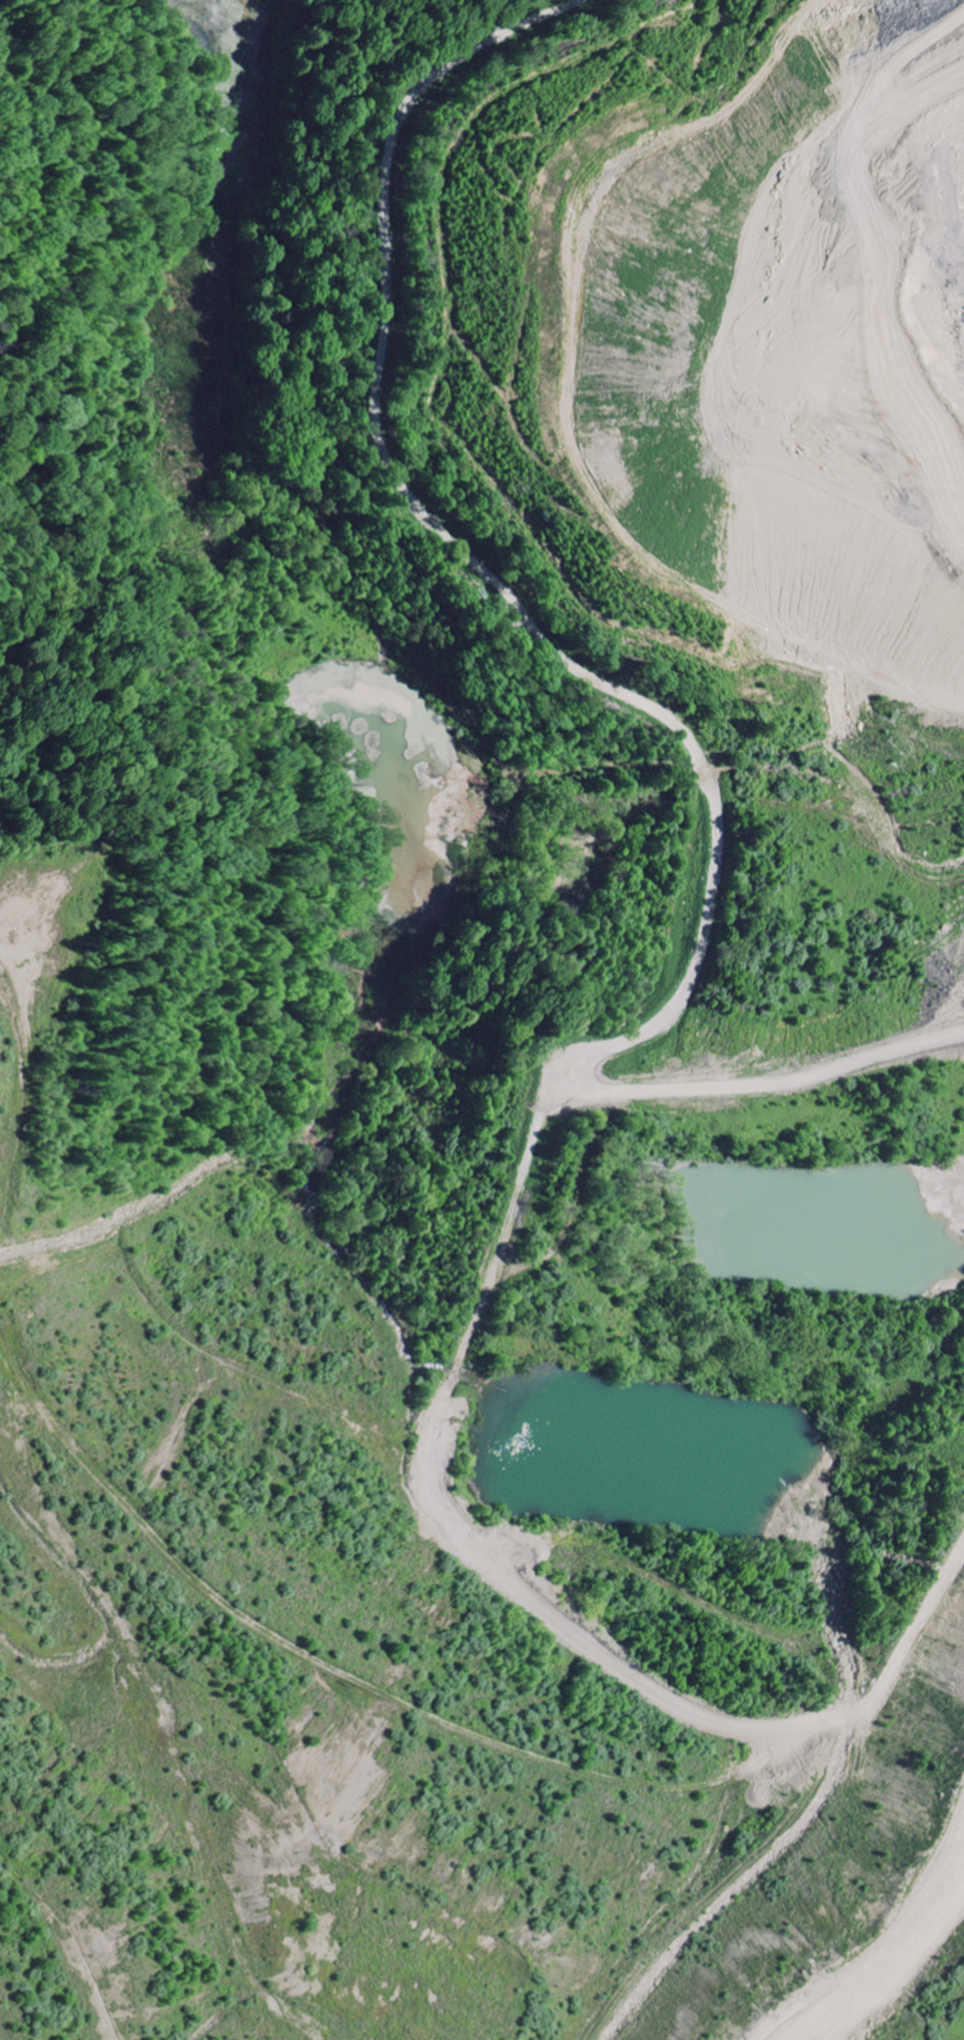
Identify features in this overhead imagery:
quarry: (508, 1103)

